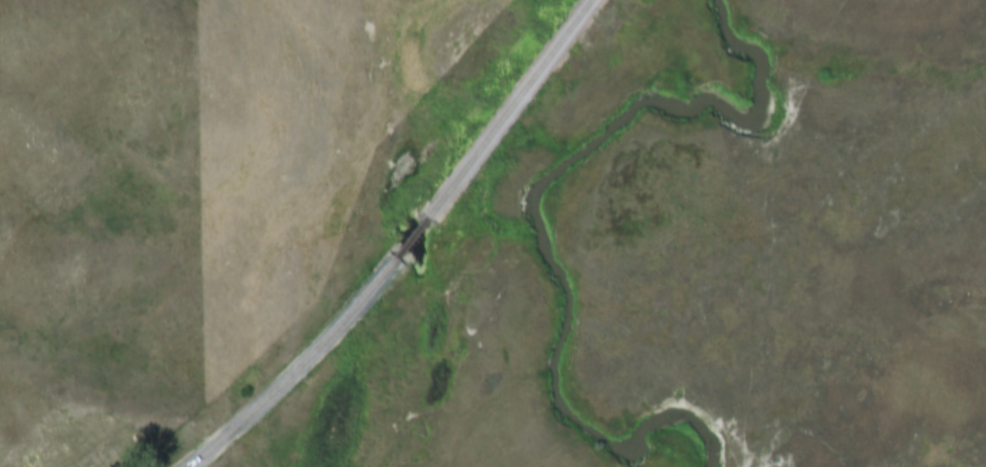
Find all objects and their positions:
railway: (391, 246)

